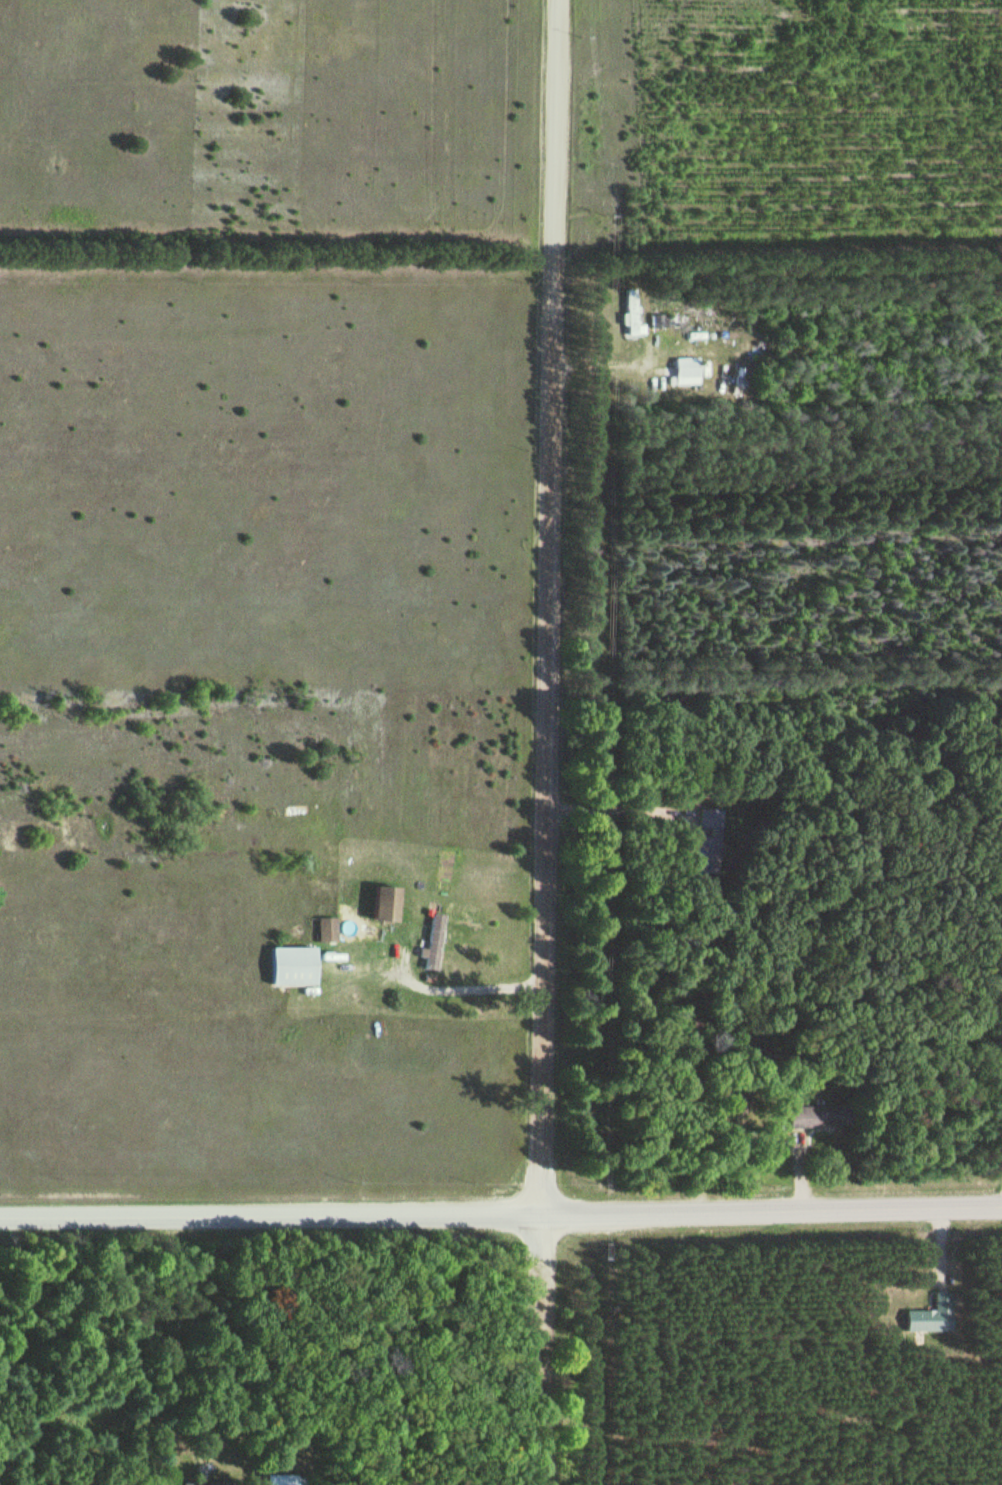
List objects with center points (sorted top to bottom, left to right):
building: (631, 312)
building: (687, 370)
road: (548, 742)
building: (707, 842)
building: (326, 928)
building: (433, 940)
building: (291, 965)
building: (818, 1116)
road: (501, 1214)
building: (930, 1315)
building: (233, 1381)
building: (284, 1479)
building: (208, 1483)

